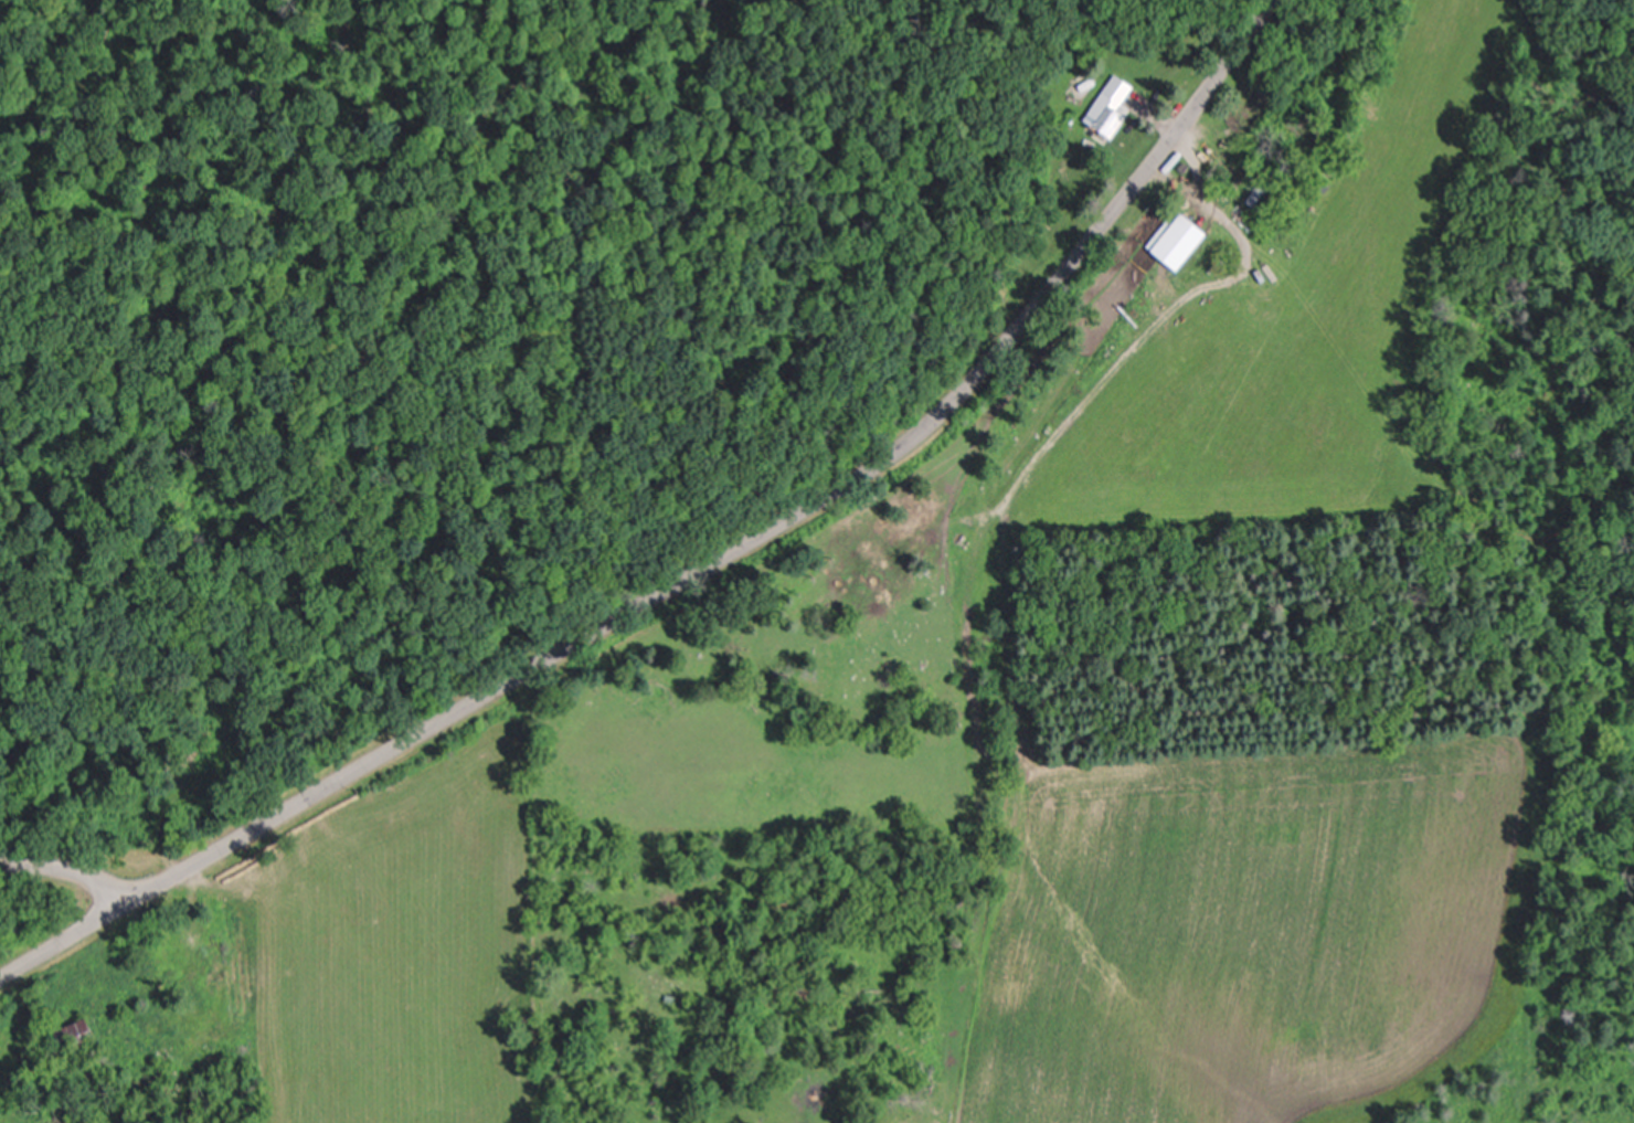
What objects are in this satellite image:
building: (1112, 106)
building: (1182, 241)
road: (704, 571)
road: (93, 870)
building: (82, 1036)

